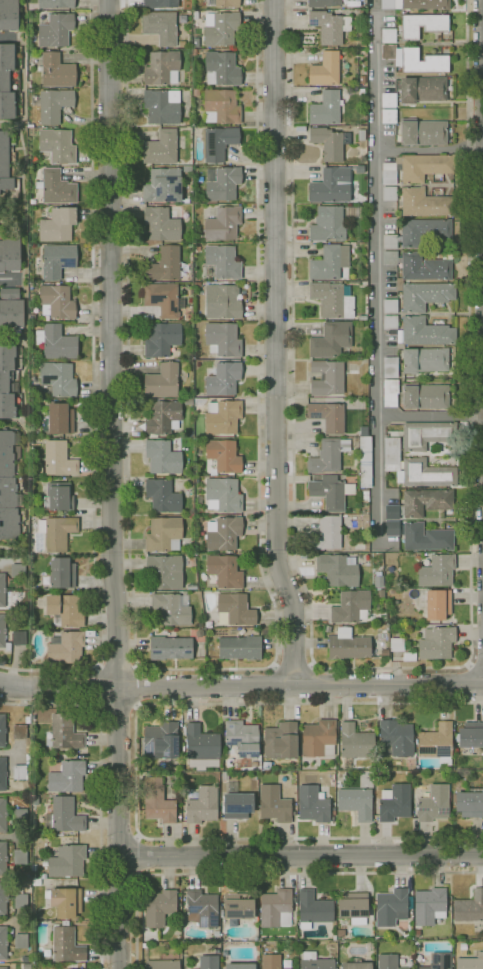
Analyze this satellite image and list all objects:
building: (56, 3)
building: (160, 3)
building: (223, 3)
building: (323, 3)
building: (416, 4)
building: (188, 11)
building: (364, 11)
building: (9, 15)
building: (182, 19)
building: (423, 25)
building: (160, 26)
building: (329, 27)
building: (220, 28)
building: (56, 30)
building: (388, 36)
building: (196, 42)
building: (181, 44)
building: (193, 52)
building: (415, 60)
building: (162, 68)
building: (221, 69)
building: (325, 69)
building: (57, 70)
building: (362, 79)
building: (7, 81)
building: (421, 89)
building: (196, 92)
building: (388, 99)
building: (53, 104)
building: (162, 106)
building: (221, 106)
building: (326, 109)
building: (389, 116)
building: (30, 125)
building: (197, 131)
building: (421, 132)
building: (361, 135)
building: (219, 142)
building: (330, 142)
building: (57, 145)
building: (161, 148)
road: (429, 149)
building: (6, 164)
building: (423, 166)
building: (187, 168)
building: (389, 178)
building: (442, 179)
building: (222, 183)
building: (163, 185)
building: (331, 185)
building: (56, 187)
building: (389, 193)
building: (32, 201)
building: (426, 203)
building: (223, 223)
building: (57, 224)
building: (161, 224)
building: (328, 225)
building: (419, 233)
building: (198, 248)
building: (10, 253)
building: (58, 260)
building: (223, 262)
building: (329, 262)
building: (164, 265)
building: (419, 266)
road: (376, 274)
road: (10, 279)
building: (354, 282)
building: (197, 284)
building: (426, 295)
building: (163, 299)
building: (333, 300)
building: (56, 301)
building: (223, 302)
building: (390, 306)
building: (11, 308)
building: (188, 316)
building: (31, 318)
building: (362, 318)
building: (390, 322)
building: (426, 332)
building: (162, 339)
building: (222, 340)
building: (331, 340)
building: (56, 342)
road: (275, 344)
building: (425, 360)
building: (32, 363)
building: (390, 367)
building: (58, 378)
building: (326, 378)
building: (222, 379)
road: (93, 380)
building: (162, 381)
building: (7, 383)
building: (390, 392)
building: (425, 396)
building: (327, 416)
road: (430, 416)
building: (162, 418)
building: (222, 418)
building: (60, 419)
building: (427, 434)
building: (391, 453)
building: (223, 456)
building: (328, 456)
building: (162, 457)
building: (363, 458)
building: (58, 459)
building: (425, 474)
road: (111, 484)
building: (8, 486)
building: (331, 492)
building: (365, 493)
building: (223, 495)
building: (162, 496)
building: (58, 497)
building: (427, 502)
building: (394, 511)
building: (393, 528)
building: (56, 532)
building: (223, 533)
building: (328, 533)
building: (163, 534)
building: (427, 537)
building: (360, 547)
building: (336, 570)
building: (434, 570)
building: (164, 572)
building: (224, 572)
building: (62, 573)
building: (2, 589)
building: (438, 605)
building: (350, 606)
building: (235, 608)
building: (65, 609)
building: (171, 609)
building: (2, 630)
building: (18, 637)
building: (435, 643)
building: (350, 647)
building: (66, 648)
building: (239, 648)
building: (171, 649)
road: (476, 661)
road: (294, 664)
road: (96, 665)
road: (135, 665)
road: (116, 667)
road: (389, 667)
road: (206, 669)
road: (134, 685)
road: (99, 686)
road: (241, 686)
road: (117, 705)
road: (99, 706)
road: (137, 706)
building: (32, 717)
building: (2, 730)
building: (19, 732)
building: (63, 732)
building: (471, 735)
building: (241, 738)
building: (319, 738)
building: (395, 738)
building: (161, 740)
building: (280, 741)
building: (416, 741)
building: (355, 742)
building: (436, 743)
building: (201, 748)
building: (153, 768)
building: (417, 768)
road: (136, 771)
building: (19, 772)
building: (408, 773)
building: (3, 774)
building: (65, 775)
building: (253, 775)
building: (339, 783)
road: (101, 788)
building: (34, 800)
building: (158, 801)
building: (236, 802)
building: (469, 802)
building: (275, 803)
building: (356, 803)
building: (395, 803)
building: (434, 803)
building: (202, 805)
building: (313, 805)
building: (3, 814)
building: (18, 816)
building: (64, 816)
road: (137, 835)
road: (136, 854)
building: (20, 856)
road: (301, 856)
building: (3, 858)
building: (66, 861)
building: (33, 867)
road: (265, 873)
building: (26, 874)
road: (138, 875)
building: (43, 876)
building: (36, 882)
building: (3, 899)
building: (20, 901)
building: (65, 901)
building: (449, 901)
building: (238, 906)
building: (429, 906)
building: (159, 907)
building: (353, 907)
building: (391, 907)
building: (469, 907)
building: (202, 908)
building: (276, 908)
building: (313, 909)
building: (38, 915)
building: (257, 919)
building: (33, 923)
building: (216, 933)
building: (340, 933)
building: (417, 933)
building: (334, 937)
building: (449, 938)
building: (20, 941)
building: (3, 943)
building: (66, 944)
building: (144, 945)
building: (416, 945)
building: (463, 946)
building: (47, 953)
building: (271, 961)
building: (388, 961)
building: (440, 961)
building: (209, 962)
building: (316, 962)
building: (471, 962)
building: (162, 964)
building: (409, 964)
building: (74, 965)
building: (356, 965)
building: (240, 966)
building: (3, 968)
building: (189, 968)

